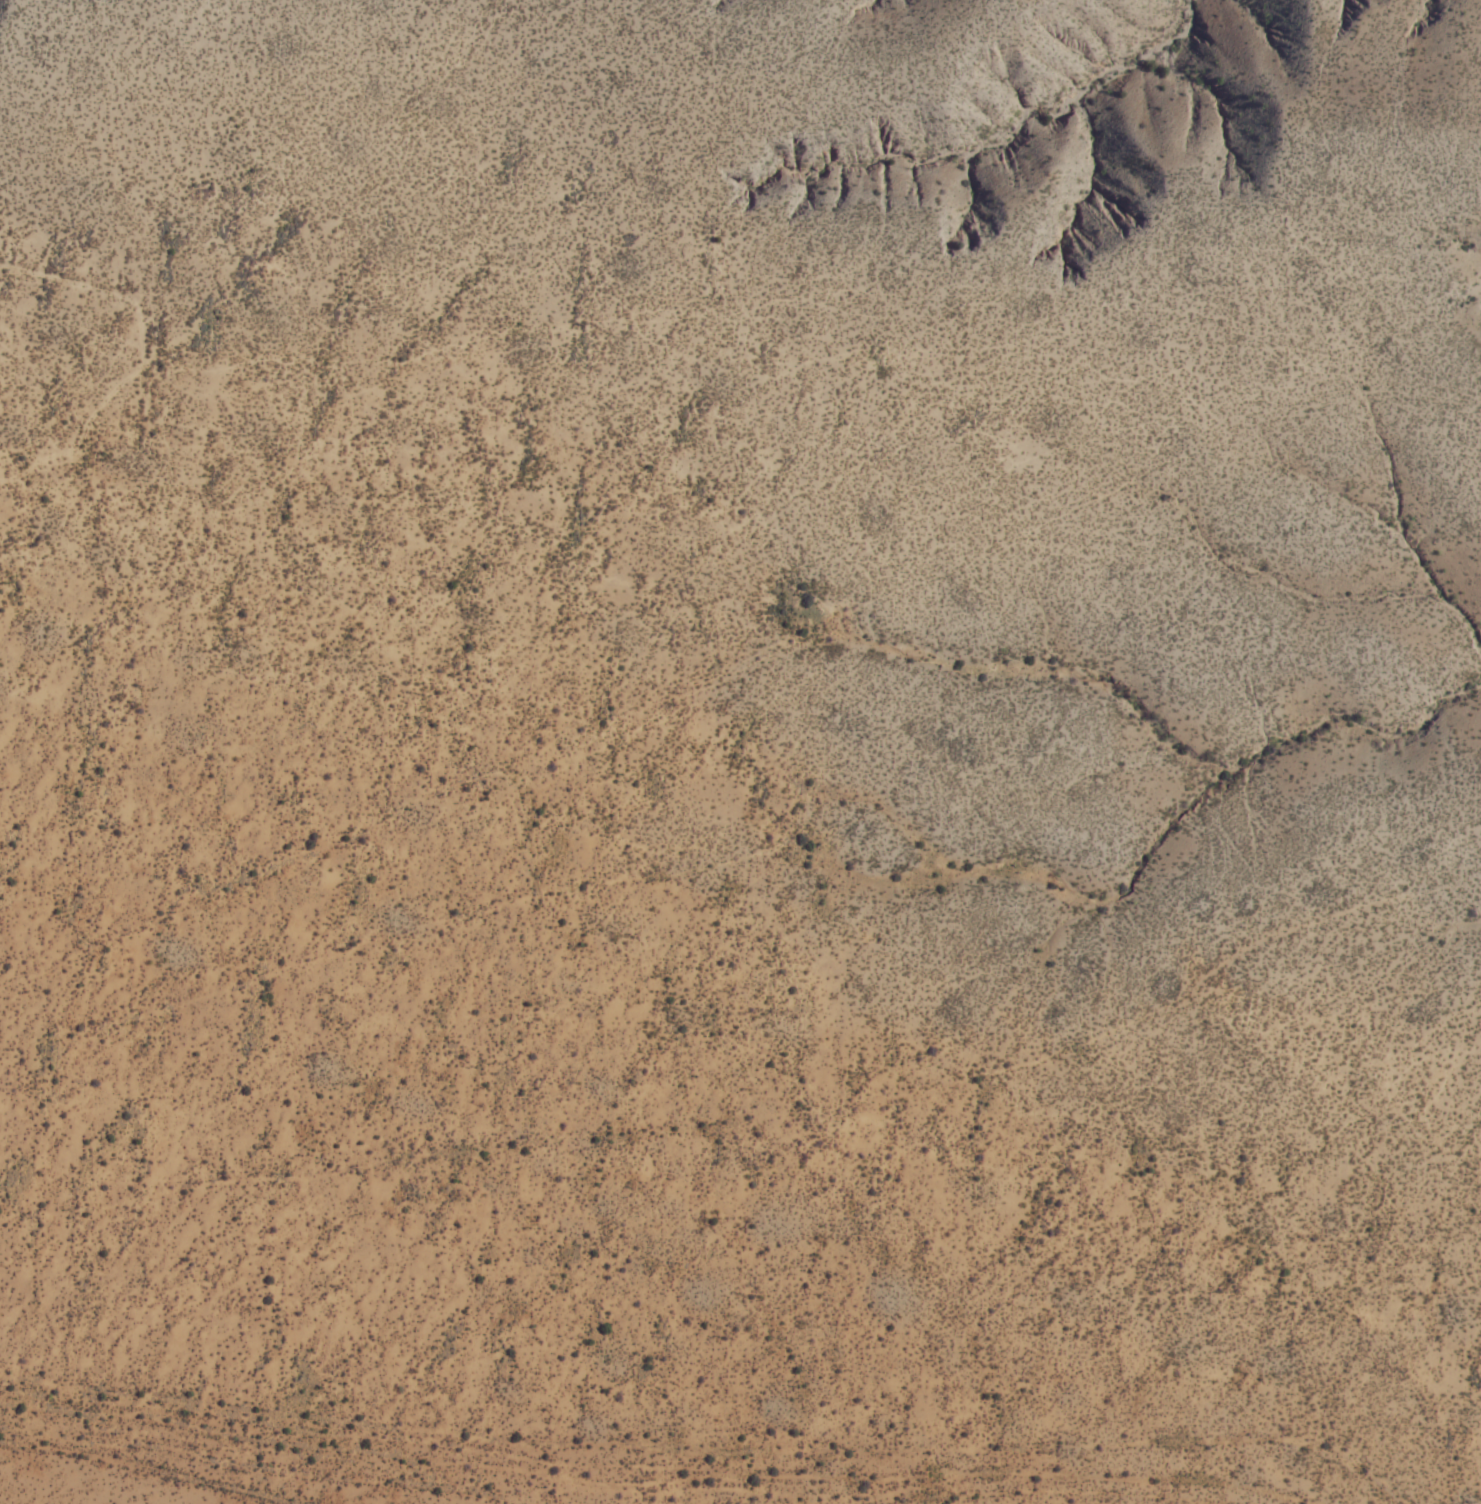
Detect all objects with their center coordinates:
road: (511, 1481)

